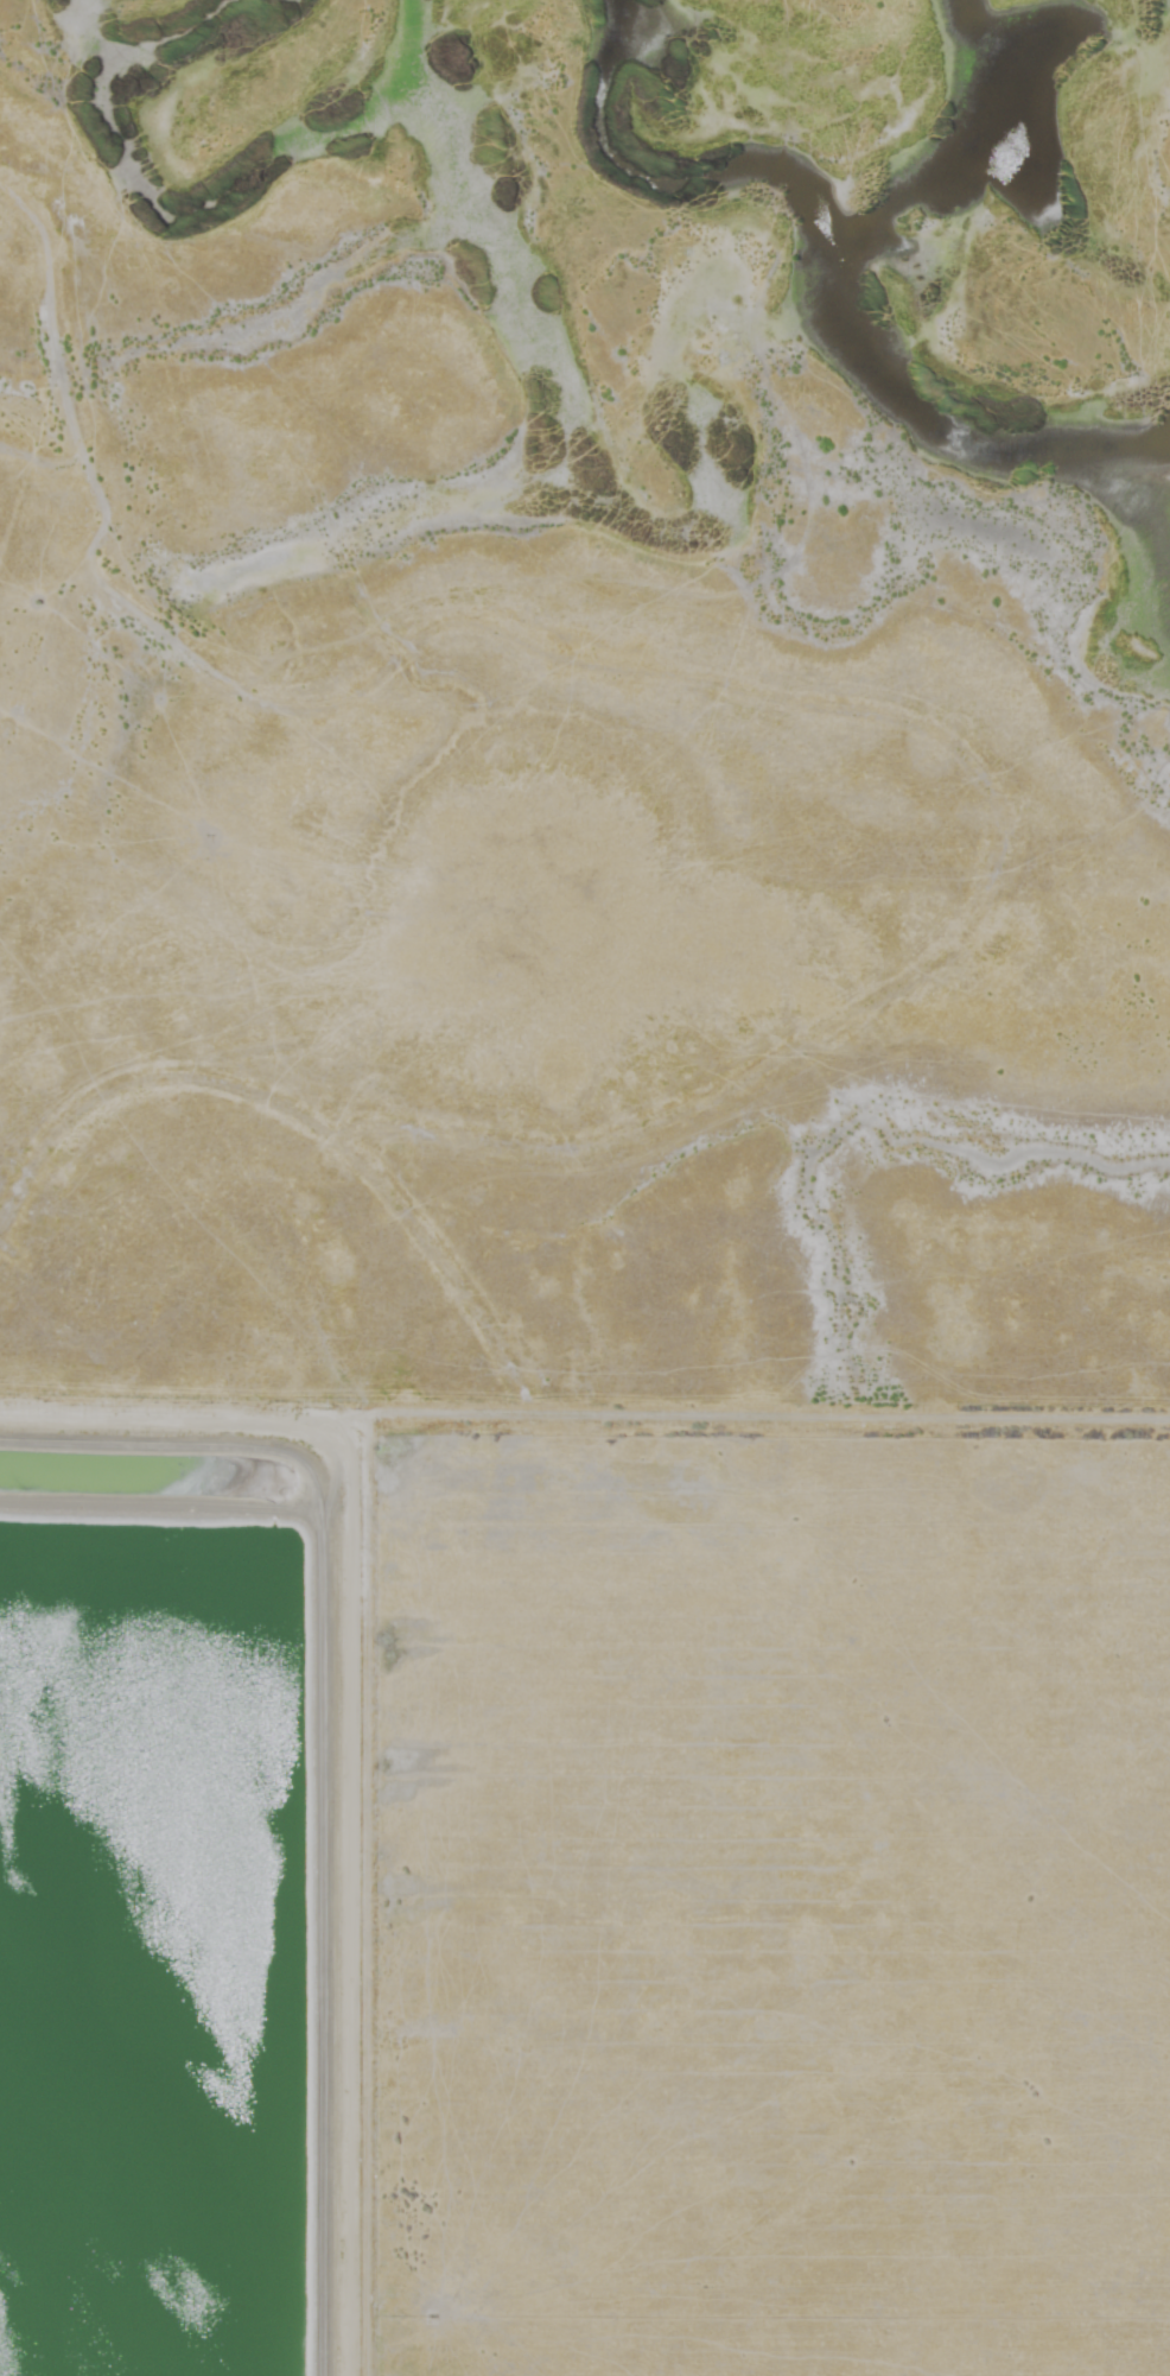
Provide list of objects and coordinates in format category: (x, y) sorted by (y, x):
crop: (769, 1890)

